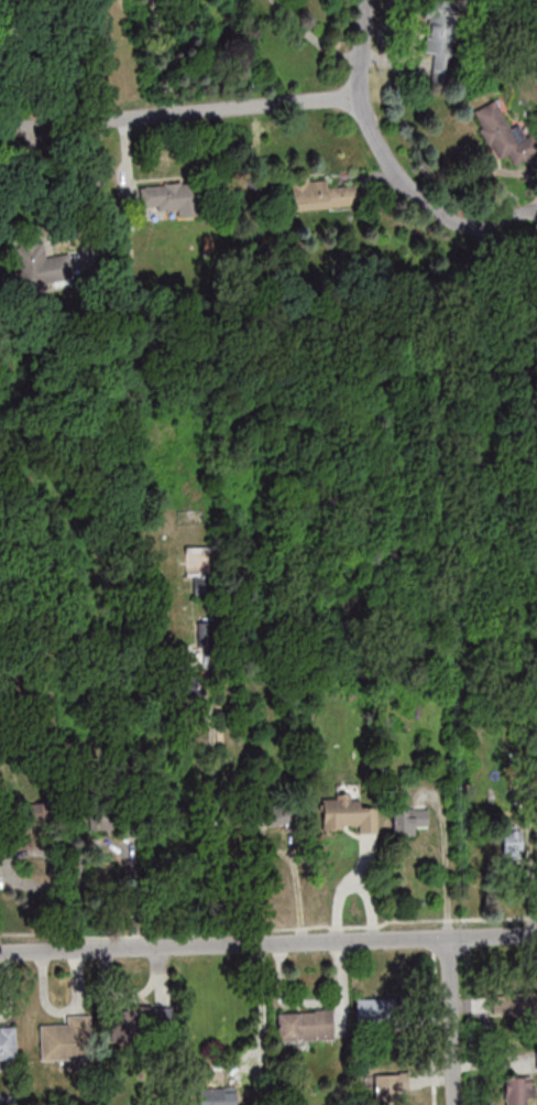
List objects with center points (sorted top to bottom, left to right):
building: (439, 28)
road: (17, 41)
road: (157, 57)
road: (12, 72)
road: (36, 105)
road: (180, 112)
road: (370, 120)
building: (505, 133)
road: (2, 147)
road: (98, 184)
building: (320, 194)
building: (171, 198)
road: (505, 213)
road: (460, 225)
road: (507, 241)
building: (41, 267)
building: (276, 814)
building: (349, 815)
building: (106, 816)
building: (31, 820)
building: (410, 820)
road: (216, 823)
building: (512, 841)
road: (446, 865)
road: (352, 885)
road: (267, 942)
building: (514, 1004)
road: (263, 1005)
building: (373, 1009)
road: (456, 1021)
building: (142, 1022)
building: (304, 1025)
building: (67, 1039)
building: (8, 1044)
building: (390, 1090)
building: (519, 1090)
building: (210, 1096)

